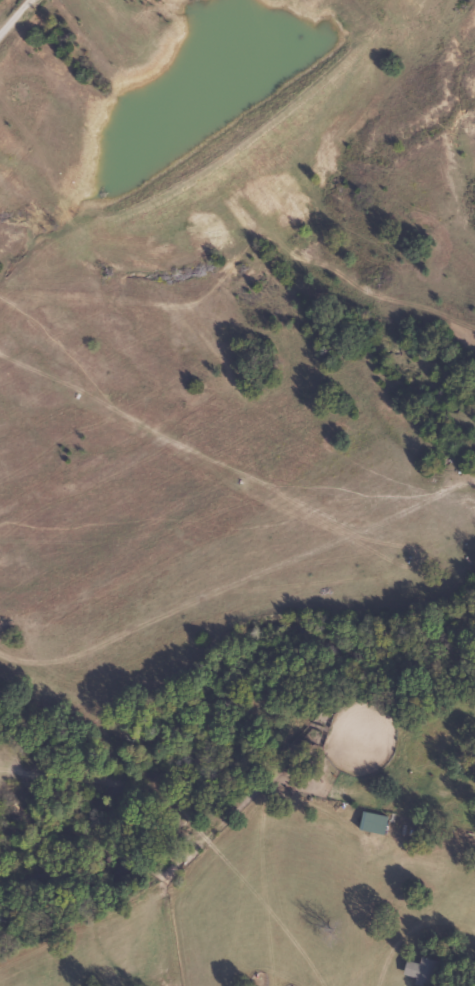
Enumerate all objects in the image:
road: (14, 16)
road: (235, 945)

